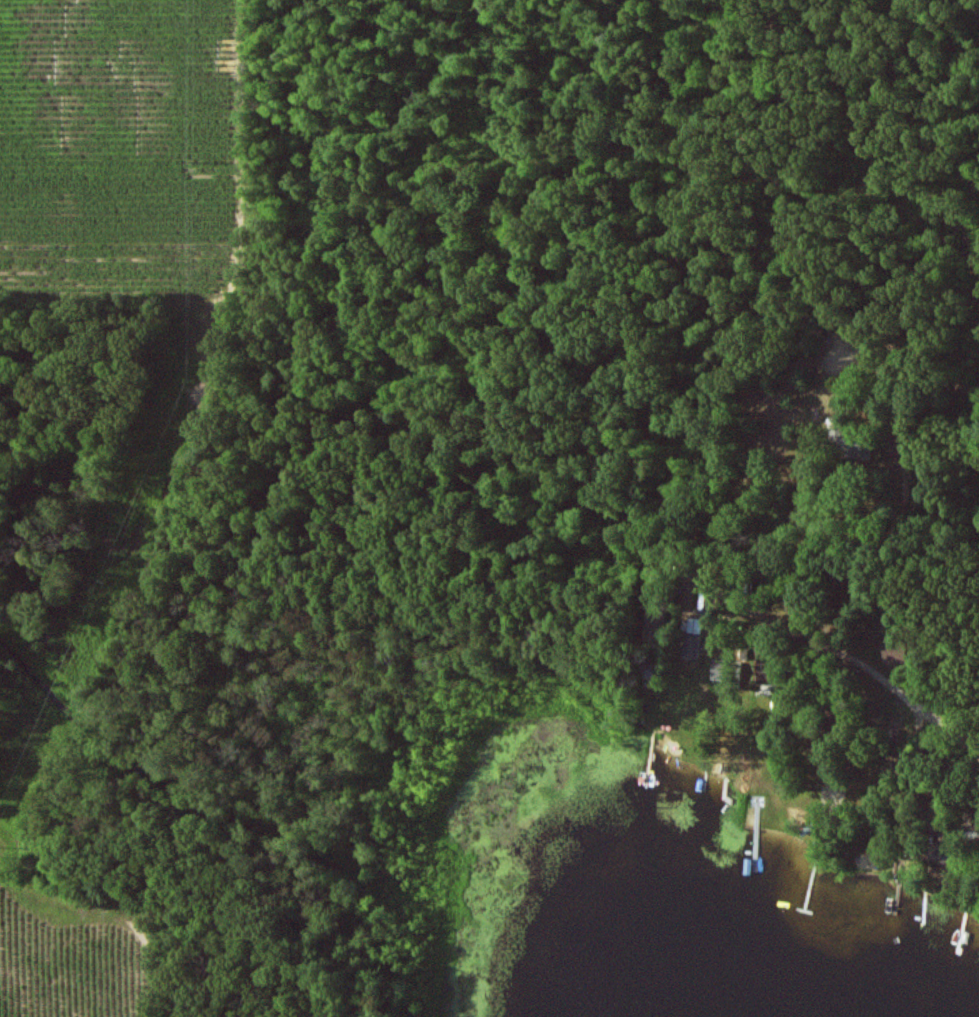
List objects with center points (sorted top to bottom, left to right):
building: (852, 446)
building: (653, 622)
road: (832, 640)
building: (692, 646)
building: (894, 650)
building: (767, 671)
building: (939, 855)

